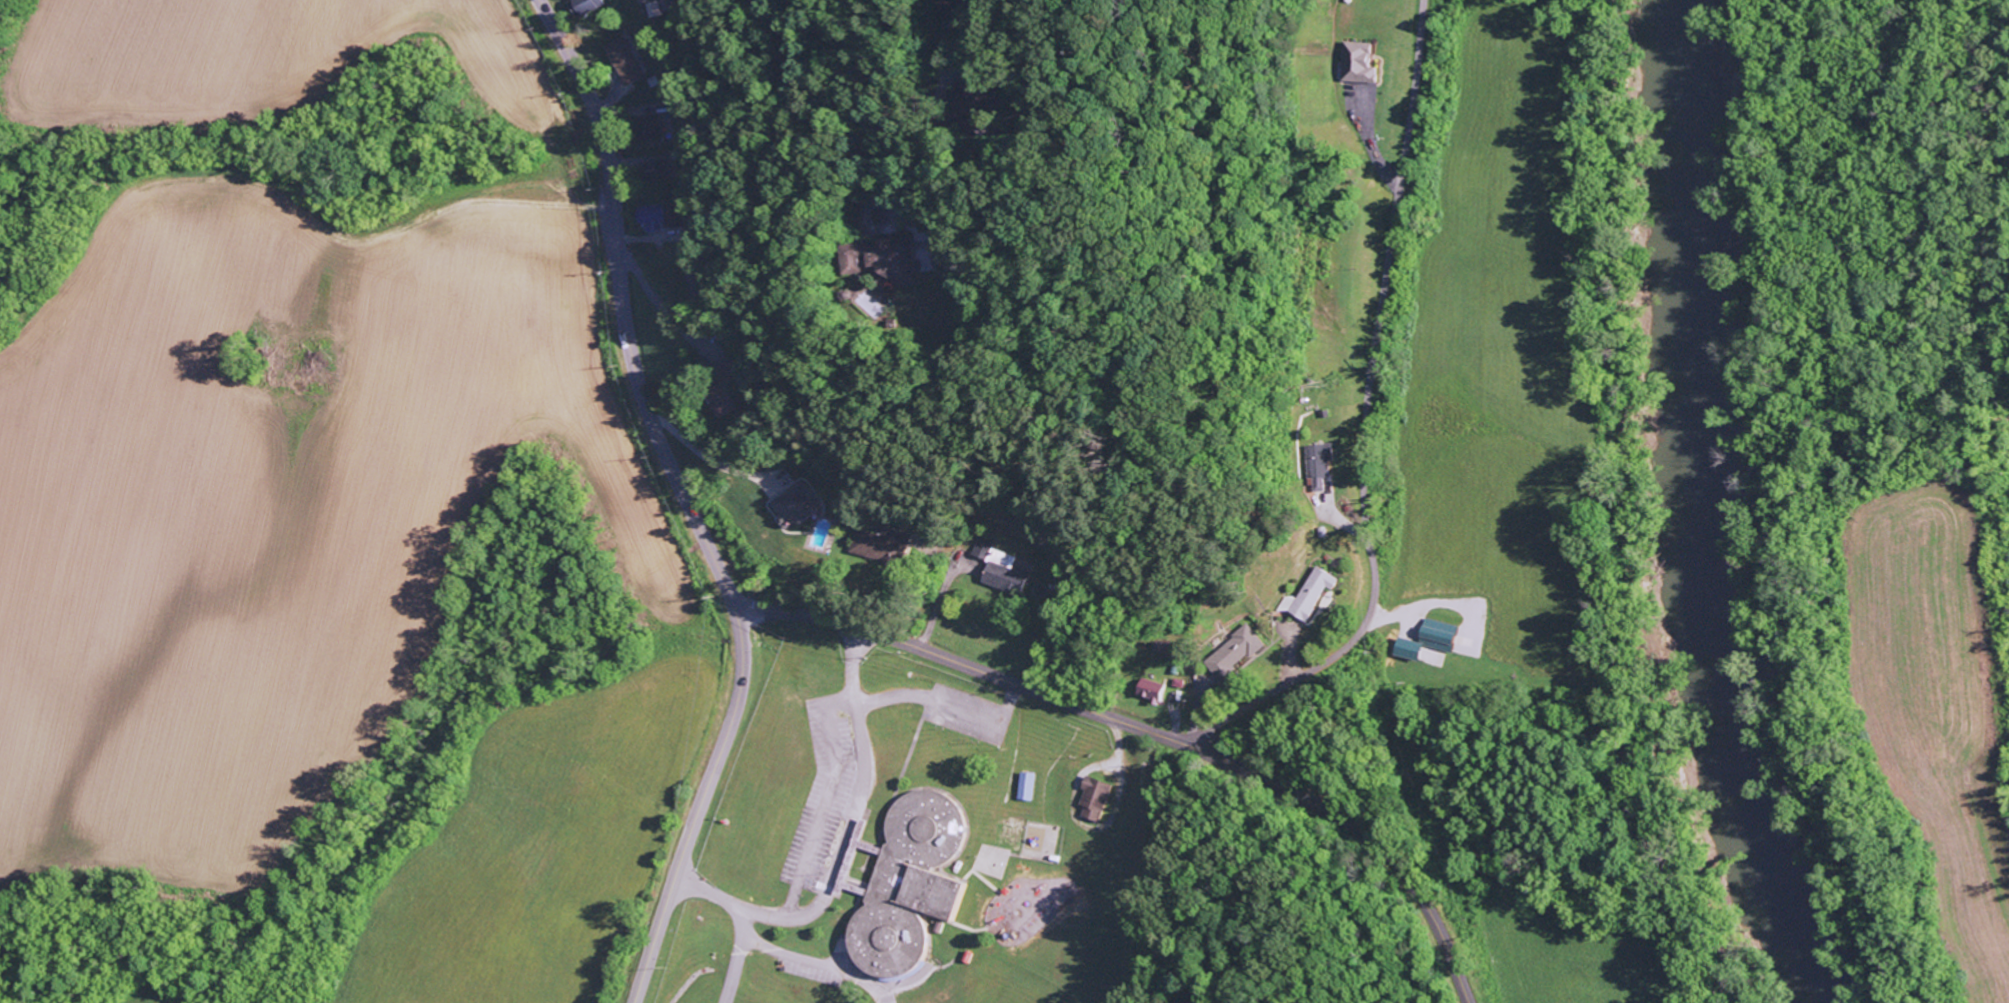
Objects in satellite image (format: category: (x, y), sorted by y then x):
building: (591, 5)
building: (663, 7)
building: (623, 54)
building: (1354, 63)
building: (879, 260)
road: (620, 308)
building: (726, 402)
road: (1362, 420)
building: (1316, 464)
building: (792, 507)
river: (1710, 514)
building: (875, 544)
building: (982, 549)
building: (1001, 571)
building: (1308, 594)
building: (1436, 635)
building: (1406, 648)
building: (1234, 652)
building: (1149, 690)
road: (1150, 733)
building: (1023, 787)
building: (1089, 799)
road: (698, 807)
building: (901, 884)

